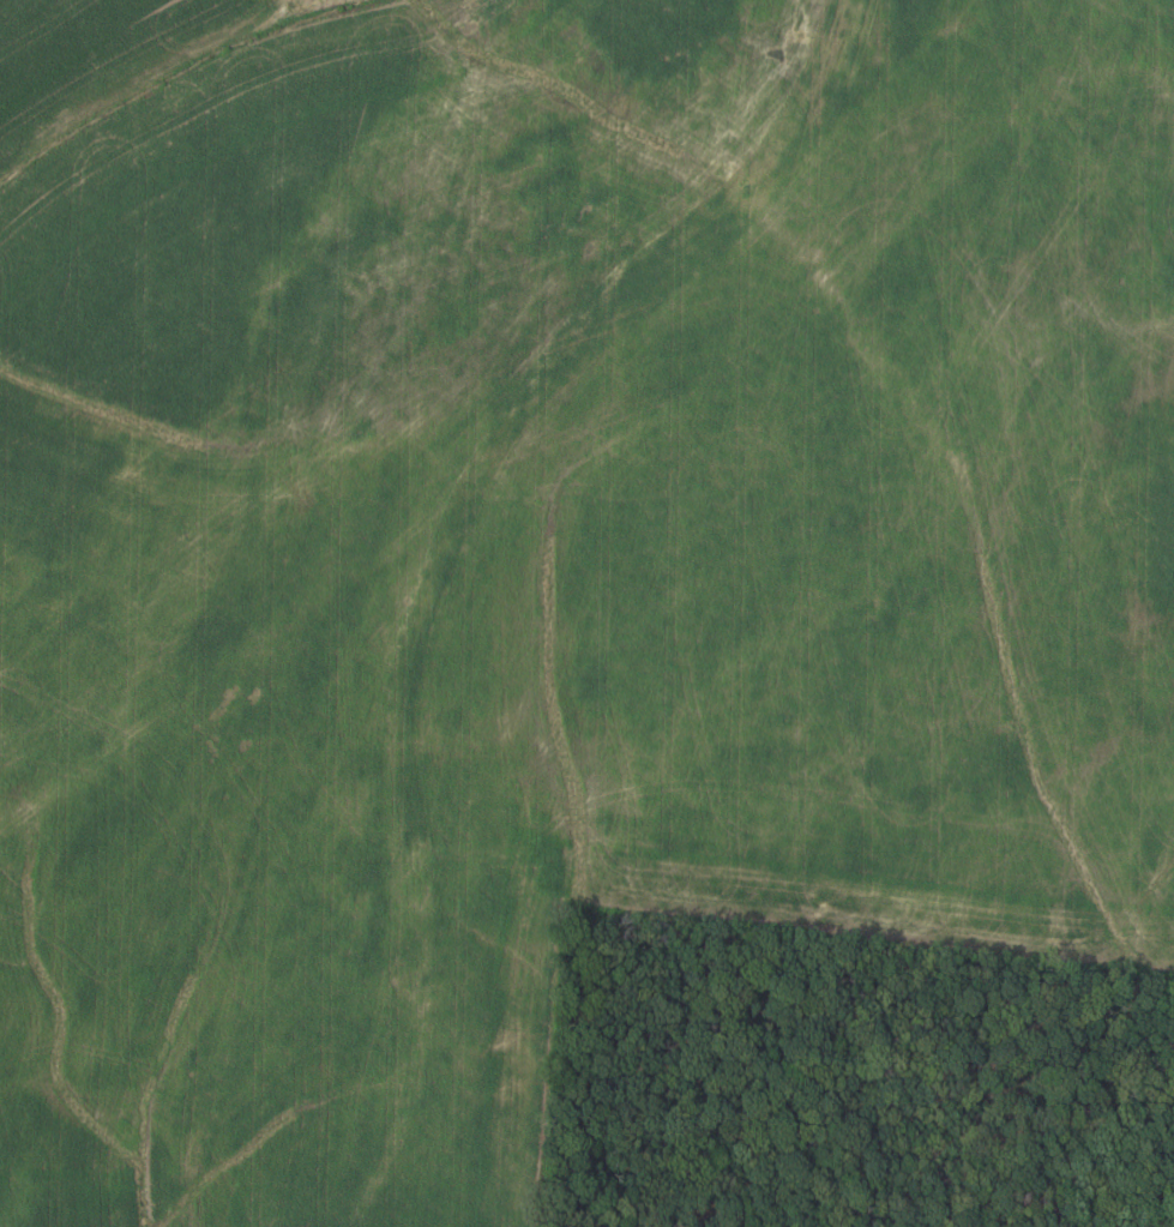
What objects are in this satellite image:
crop: (549, 546)

